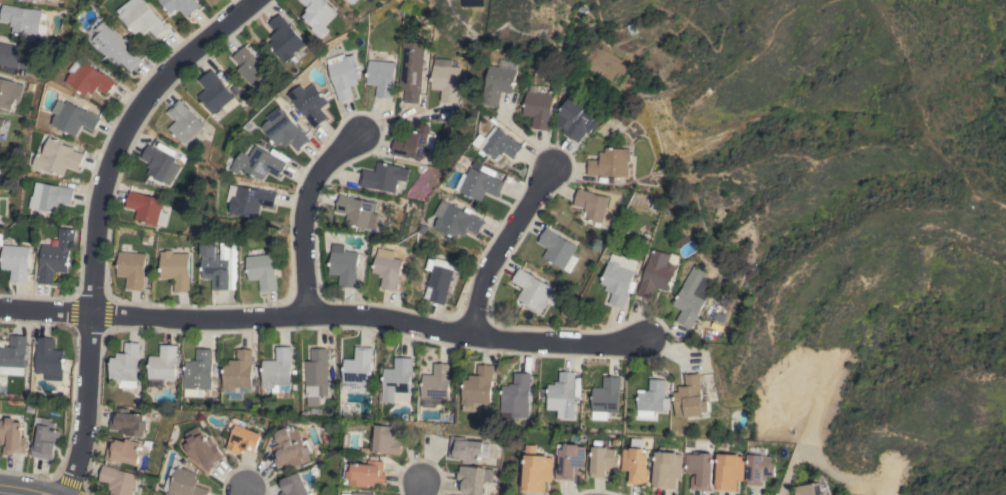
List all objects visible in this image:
building: (34, 1)
building: (351, 1)
building: (180, 5)
building: (318, 16)
building: (143, 18)
building: (23, 21)
building: (285, 39)
building: (115, 47)
building: (10, 55)
building: (249, 66)
building: (411, 71)
building: (343, 74)
building: (381, 77)
building: (89, 78)
building: (445, 79)
building: (498, 84)
building: (9, 92)
building: (215, 92)
building: (310, 103)
building: (538, 108)
building: (73, 118)
building: (574, 119)
building: (1, 122)
building: (184, 122)
building: (285, 129)
road: (522, 137)
building: (501, 144)
building: (410, 145)
building: (58, 157)
building: (157, 162)
building: (260, 163)
building: (610, 163)
building: (383, 177)
building: (482, 183)
building: (50, 196)
building: (251, 200)
building: (591, 205)
building: (146, 209)
building: (355, 211)
road: (95, 217)
road: (303, 217)
building: (458, 220)
road: (499, 247)
building: (556, 248)
building: (55, 256)
building: (15, 262)
building: (228, 263)
building: (343, 265)
building: (214, 266)
building: (387, 268)
building: (132, 269)
building: (175, 269)
building: (261, 271)
building: (656, 274)
building: (439, 278)
building: (619, 278)
building: (531, 290)
building: (692, 297)
road: (323, 315)
building: (14, 356)
building: (48, 357)
building: (163, 363)
building: (358, 365)
building: (125, 366)
building: (198, 370)
building: (278, 371)
building: (237, 375)
building: (316, 376)
building: (397, 380)
building: (436, 382)
building: (562, 388)
building: (478, 389)
building: (516, 397)
building: (605, 398)
building: (689, 398)
building: (652, 399)
building: (128, 423)
building: (12, 436)
building: (242, 437)
building: (45, 439)
building: (386, 440)
building: (290, 447)
building: (203, 448)
building: (465, 449)
building: (122, 451)
building: (570, 461)
building: (603, 461)
building: (635, 465)
building: (667, 469)
building: (759, 469)
building: (537, 470)
building: (700, 470)
building: (729, 471)
building: (366, 473)
building: (473, 479)
building: (118, 480)
building: (185, 483)
building: (293, 485)
road: (23, 488)
road: (417, 488)
road: (243, 489)
building: (810, 489)
building: (359, 494)

